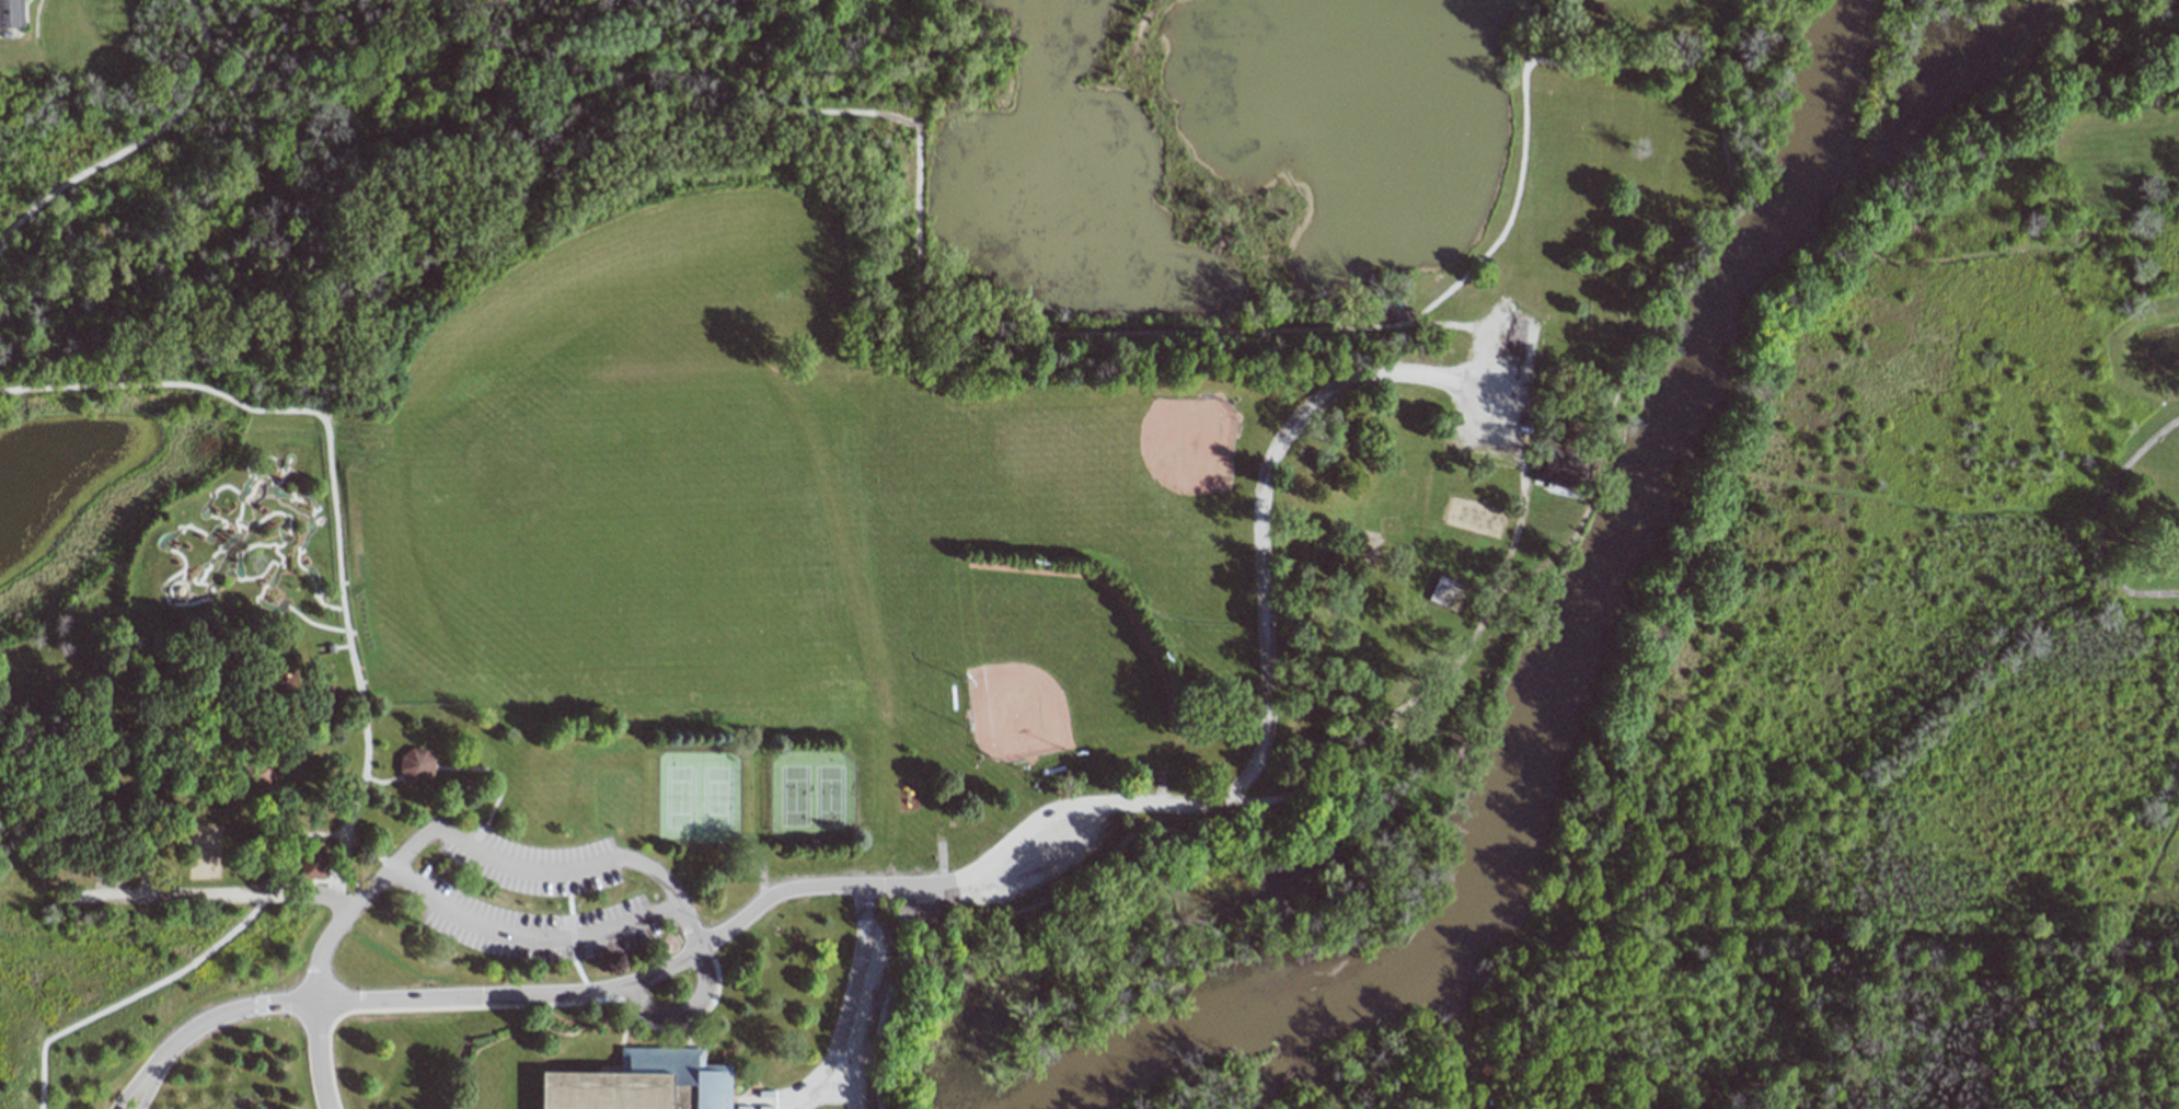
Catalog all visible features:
building: (10, 13)
road: (138, 140)
road: (1434, 300)
road: (1459, 385)
road: (246, 462)
road: (283, 463)
building: (1561, 470)
road: (328, 492)
park: (1148, 495)
road: (284, 516)
park: (784, 517)
road: (2090, 520)
road: (1514, 523)
road: (244, 527)
road: (277, 528)
road: (301, 542)
road: (237, 558)
road: (161, 582)
road: (172, 584)
building: (1446, 593)
road: (186, 596)
road: (279, 605)
park: (1050, 660)
river: (1566, 678)
building: (416, 766)
park: (793, 795)
park: (827, 796)
park: (678, 797)
park: (715, 797)
road: (991, 857)
parking lot: (531, 863)
building: (312, 864)
road: (532, 870)
road: (670, 892)
road: (211, 896)
road: (357, 896)
building: (912, 912)
parking lot: (530, 925)
road: (1777, 954)
road: (129, 996)
road: (845, 1031)
road: (1538, 1054)
road: (160, 1056)
road: (319, 1056)
road: (1468, 1067)
road: (868, 1077)
road: (850, 1079)
building: (643, 1085)
road: (1472, 1106)

